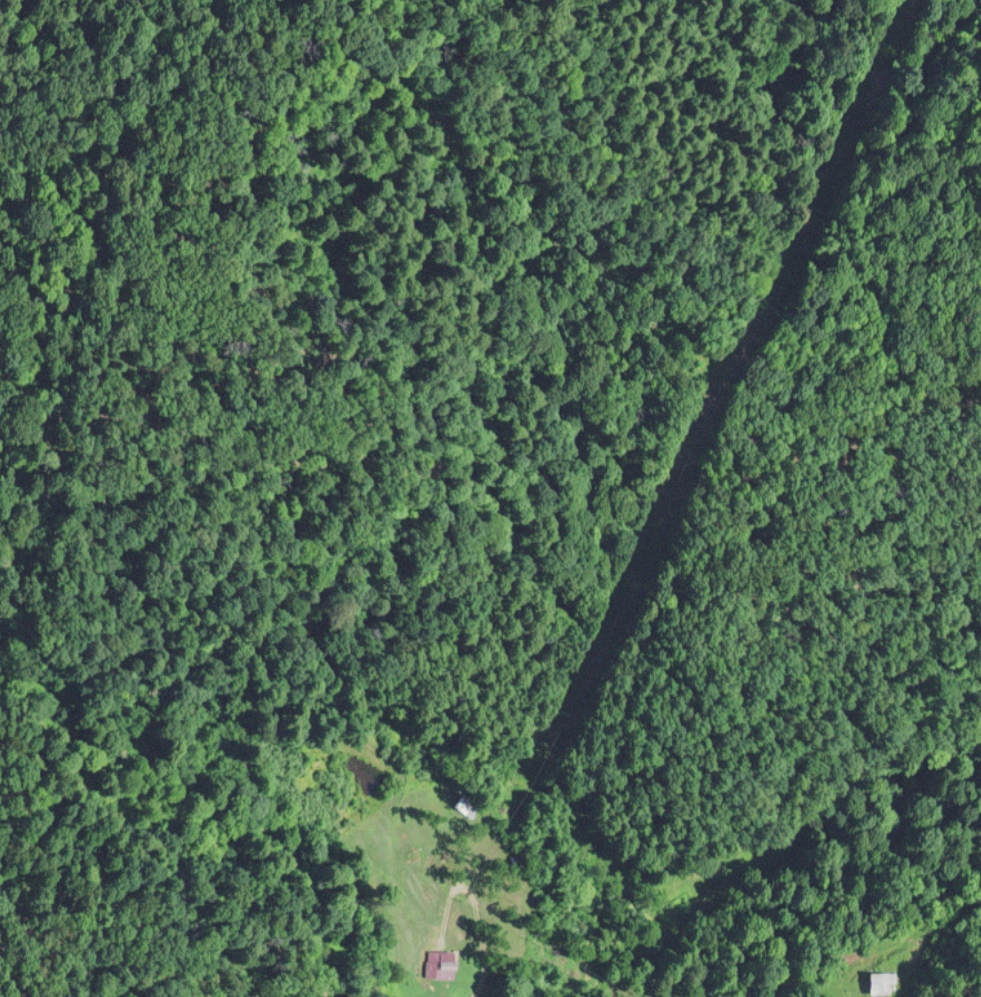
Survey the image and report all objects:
road: (810, 820)
road: (621, 894)
road: (484, 937)
road: (848, 953)
building: (443, 962)
building: (882, 980)

